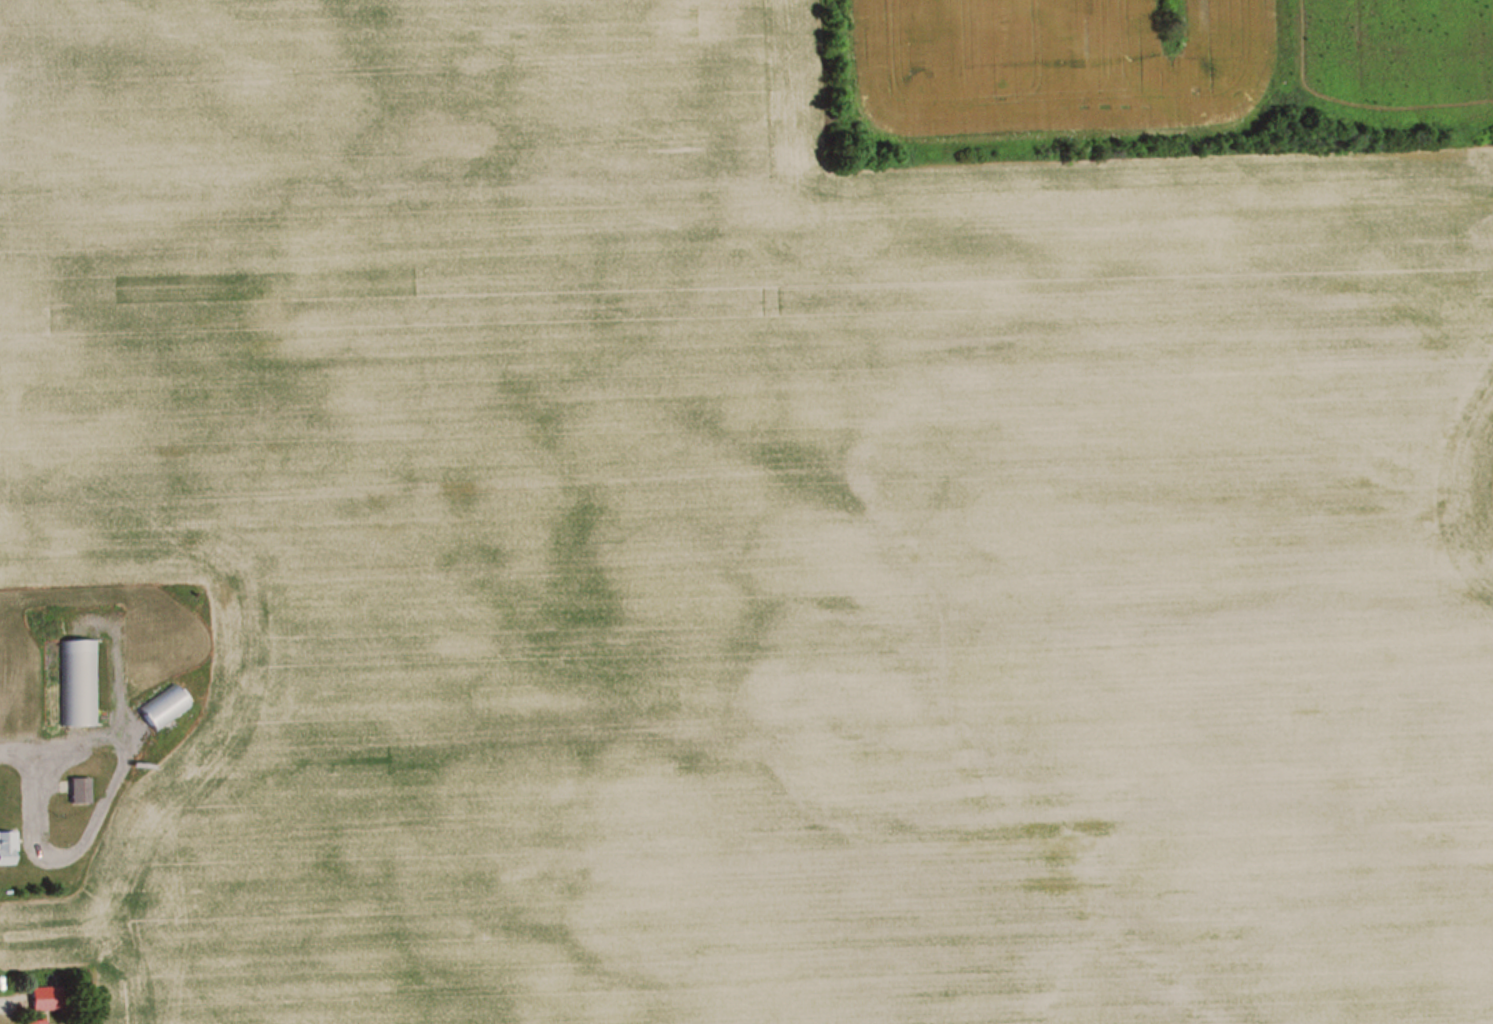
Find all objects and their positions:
building: (78, 682)
building: (165, 705)
building: (81, 790)
building: (8, 848)
building: (47, 997)
building: (38, 1021)

